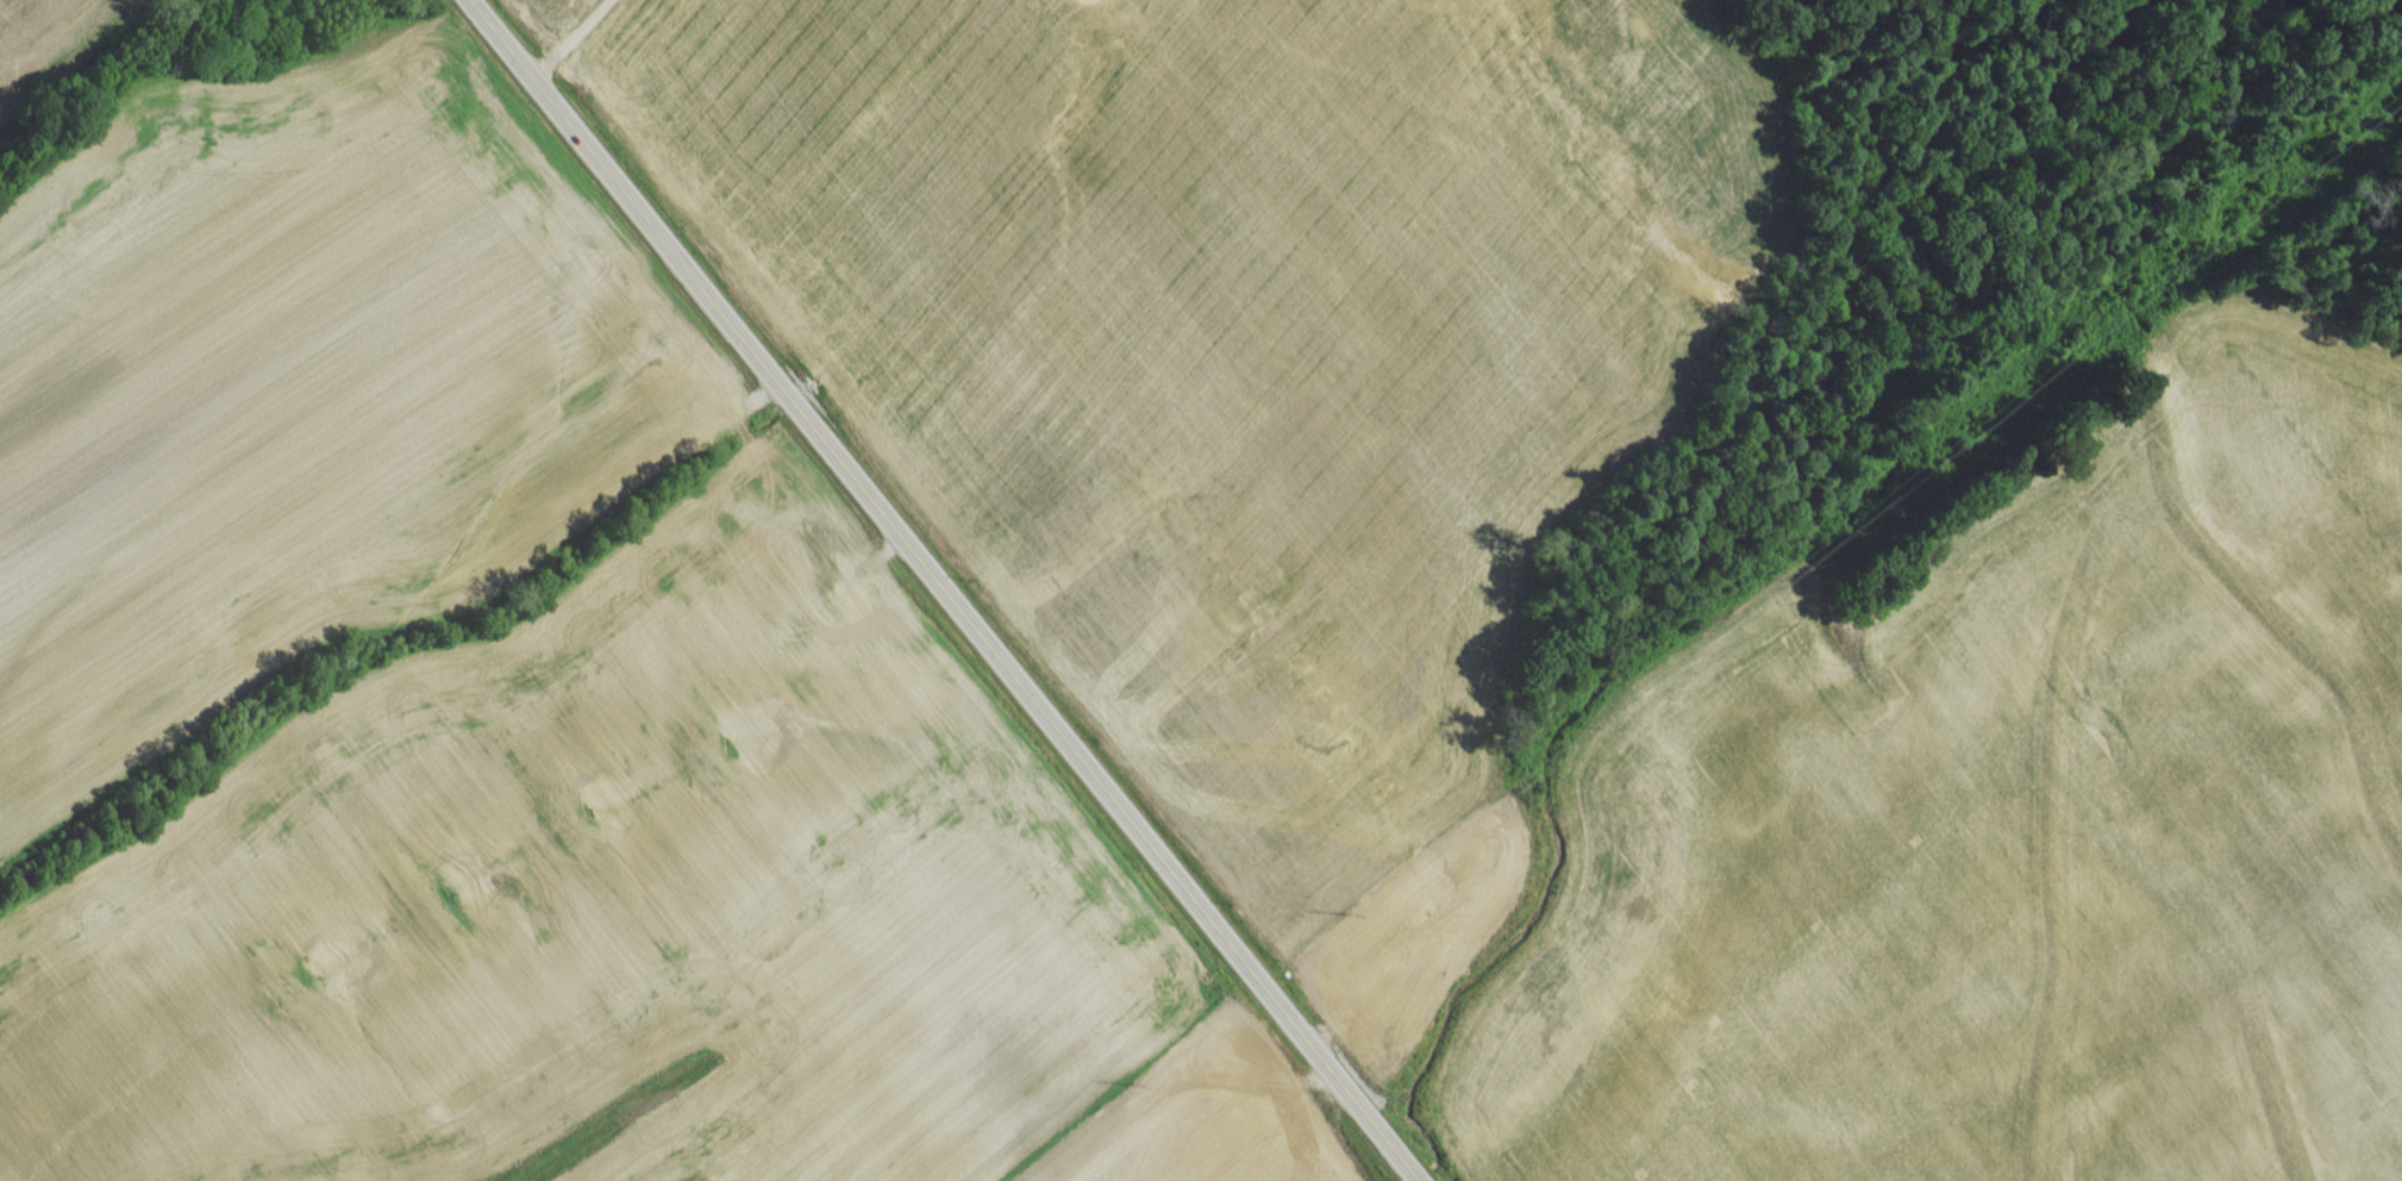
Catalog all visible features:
road: (934, 592)

